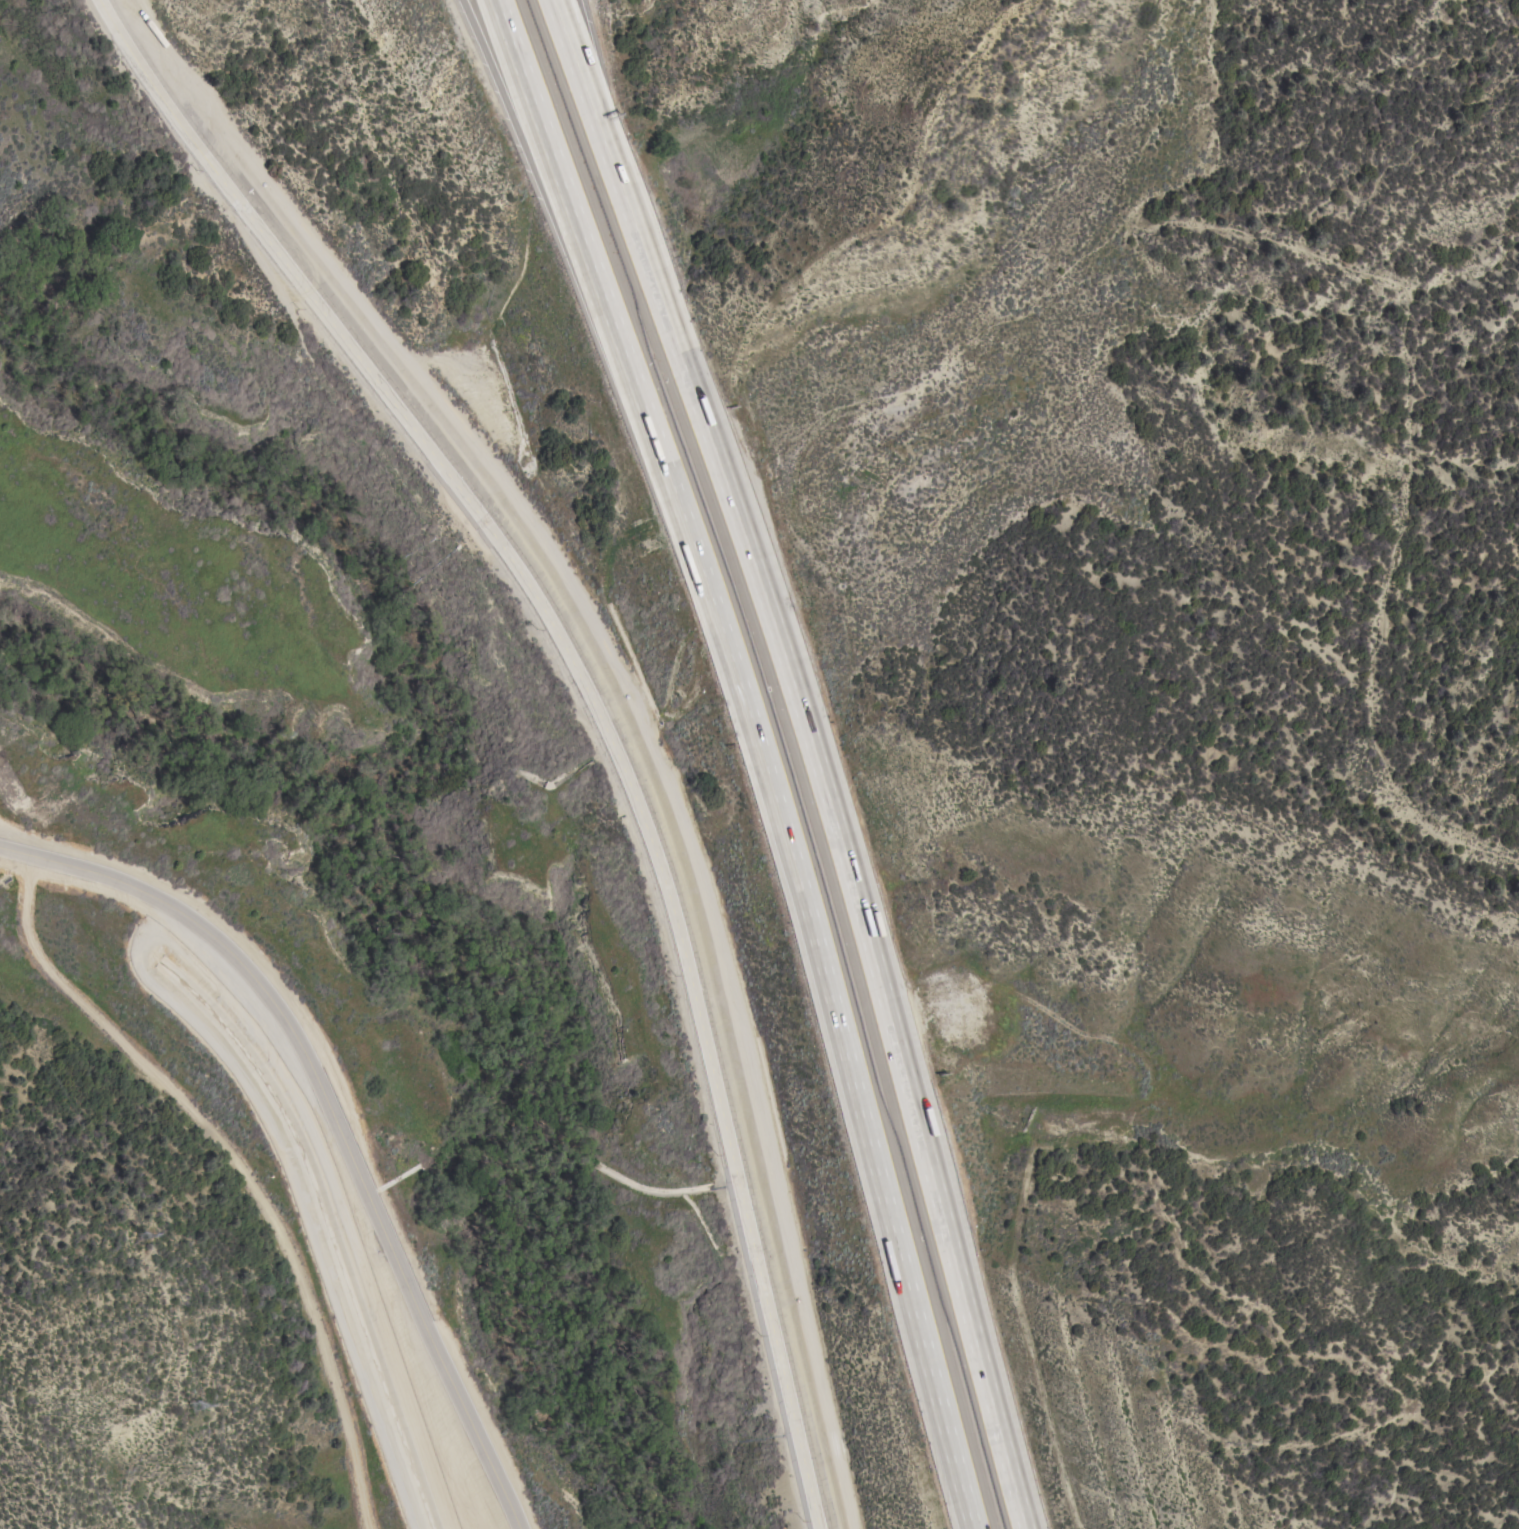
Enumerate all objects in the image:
road: (584, 18)
road: (587, 90)
road: (604, 108)
road: (567, 232)
road: (579, 233)
road: (598, 701)
road: (658, 752)
road: (843, 848)
road: (828, 994)
road: (337, 1114)
power tower: (142, 1237)
power tower: (197, 1406)

